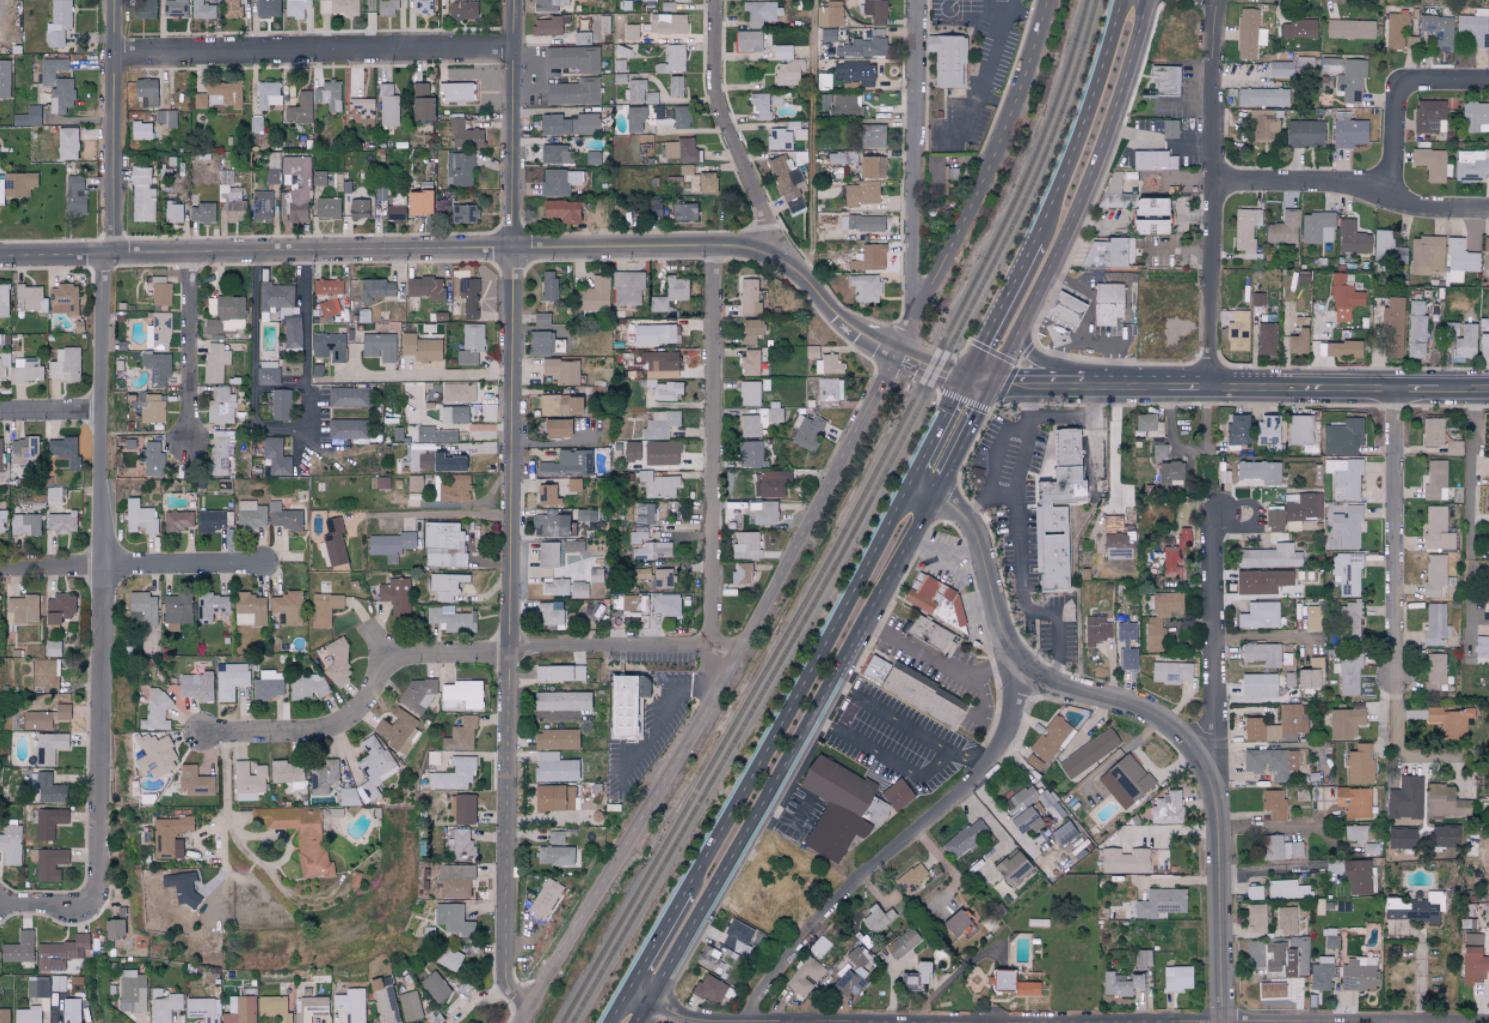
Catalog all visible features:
building: (682, 0)
building: (547, 5)
building: (423, 6)
road: (1011, 6)
building: (337, 7)
building: (386, 7)
building: (175, 8)
building: (231, 8)
building: (267, 8)
building: (295, 8)
building: (144, 9)
building: (462, 9)
road: (987, 9)
building: (202, 10)
building: (875, 11)
building: (758, 12)
building: (830, 14)
road: (987, 18)
building: (57, 22)
building: (667, 23)
building: (548, 25)
building: (1474, 27)
building: (1298, 28)
building: (1350, 29)
building: (1438, 30)
building: (1396, 31)
building: (630, 32)
building: (1249, 33)
building: (827, 34)
building: (582, 38)
building: (747, 41)
building: (863, 47)
building: (782, 52)
road: (316, 53)
building: (573, 58)
building: (672, 59)
building: (948, 59)
building: (1330, 64)
building: (1280, 69)
building: (787, 72)
building: (855, 72)
building: (4, 78)
building: (1165, 79)
building: (1351, 79)
building: (56, 84)
road: (1194, 84)
building: (675, 85)
road: (981, 87)
building: (634, 90)
building: (145, 91)
building: (455, 92)
building: (573, 92)
building: (267, 94)
building: (223, 95)
building: (327, 95)
building: (1262, 97)
building: (776, 99)
building: (199, 101)
building: (421, 102)
road: (997, 102)
building: (759, 105)
building: (846, 105)
building: (387, 106)
road: (1187, 106)
building: (300, 108)
building: (362, 110)
building: (658, 112)
building: (31, 116)
building: (1429, 116)
building: (165, 117)
building: (680, 117)
building: (1475, 117)
building: (634, 118)
road: (1082, 122)
road: (1398, 123)
building: (568, 124)
road: (516, 125)
building: (1263, 125)
road: (115, 126)
building: (1169, 128)
road: (728, 129)
building: (140, 130)
building: (1349, 133)
building: (1305, 134)
building: (464, 135)
building: (872, 135)
building: (779, 139)
road: (813, 139)
building: (67, 143)
road: (1160, 144)
building: (681, 150)
building: (554, 154)
building: (843, 157)
building: (592, 158)
building: (1153, 160)
building: (1430, 163)
road: (911, 164)
building: (1471, 165)
building: (871, 166)
building: (460, 169)
building: (685, 169)
building: (934, 170)
railway: (1026, 172)
railway: (1035, 174)
building: (951, 175)
building: (272, 177)
building: (318, 178)
building: (673, 180)
building: (558, 181)
building: (707, 182)
building: (16, 183)
building: (787, 185)
building: (296, 186)
road: (1352, 191)
building: (379, 192)
building: (861, 193)
road: (1215, 193)
building: (142, 194)
building: (74, 195)
building: (231, 195)
road: (1081, 197)
building: (261, 202)
building: (1148, 207)
building: (326, 208)
building: (358, 208)
building: (562, 210)
building: (684, 211)
building: (173, 212)
building: (394, 212)
building: (202, 213)
building: (463, 213)
building: (862, 223)
road: (1097, 224)
building: (1148, 226)
building: (1317, 227)
building: (1283, 228)
building: (1245, 232)
building: (1352, 238)
building: (1387, 248)
road: (648, 250)
road: (314, 251)
road: (1179, 251)
road: (56, 253)
building: (1105, 253)
building: (1426, 255)
building: (1487, 257)
building: (869, 258)
building: (1459, 260)
building: (548, 285)
building: (327, 286)
building: (424, 287)
building: (628, 287)
building: (375, 288)
building: (864, 288)
building: (159, 290)
building: (669, 293)
building: (594, 295)
building: (274, 296)
building: (749, 296)
building: (468, 297)
building: (29, 298)
building: (1343, 299)
building: (63, 300)
building: (3, 301)
building: (1107, 303)
building: (328, 307)
building: (1065, 308)
road: (999, 310)
building: (222, 312)
building: (541, 319)
road: (842, 327)
building: (1393, 327)
building: (291, 328)
building: (1416, 329)
road: (1087, 330)
building: (158, 331)
building: (750, 331)
building: (1238, 331)
building: (656, 334)
building: (1266, 339)
building: (1465, 341)
building: (1298, 342)
building: (470, 344)
building: (1484, 345)
building: (328, 346)
building: (379, 346)
building: (420, 347)
road: (189, 348)
building: (1339, 349)
building: (660, 360)
building: (214, 362)
building: (749, 362)
building: (65, 365)
building: (828, 365)
building: (156, 368)
building: (27, 370)
building: (316, 370)
building: (561, 371)
building: (267, 373)
road: (424, 373)
building: (2, 374)
road: (960, 377)
road: (1101, 386)
road: (957, 388)
building: (830, 389)
road: (1349, 389)
building: (665, 390)
building: (458, 392)
building: (749, 393)
building: (487, 394)
building: (349, 397)
building: (280, 404)
building: (560, 405)
building: (221, 406)
building: (150, 408)
road: (50, 410)
building: (453, 414)
building: (771, 415)
road: (1072, 416)
building: (659, 424)
building: (1149, 425)
road: (279, 426)
building: (749, 426)
road: (448, 427)
building: (348, 428)
building: (556, 428)
building: (1237, 429)
building: (1267, 430)
building: (1299, 430)
building: (807, 431)
road: (969, 432)
building: (1432, 432)
building: (436, 434)
building: (1342, 437)
road: (306, 440)
road: (931, 441)
road: (555, 444)
road: (1114, 446)
building: (1453, 447)
building: (23, 450)
building: (64, 451)
building: (220, 451)
building: (631, 451)
building: (1158, 451)
building: (660, 453)
building: (751, 454)
building: (0, 457)
building: (275, 457)
building: (152, 459)
building: (419, 460)
building: (446, 462)
building: (567, 464)
road: (995, 465)
road: (715, 470)
building: (1259, 471)
building: (1169, 472)
building: (1223, 477)
building: (1344, 478)
building: (1435, 479)
building: (383, 483)
building: (771, 484)
building: (573, 485)
building: (658, 485)
building: (451, 488)
building: (547, 494)
road: (1001, 495)
building: (1303, 506)
building: (1055, 510)
road: (1468, 512)
building: (645, 513)
building: (765, 513)
road: (429, 514)
building: (250, 515)
building: (584, 515)
building: (140, 517)
building: (283, 517)
building: (1273, 518)
building: (177, 520)
building: (210, 520)
building: (2, 521)
road: (806, 521)
building: (61, 522)
building: (25, 524)
building: (548, 525)
building: (1300, 525)
building: (1347, 526)
building: (1437, 529)
road: (1396, 531)
building: (1183, 537)
building: (1116, 539)
building: (335, 544)
building: (389, 545)
building: (443, 545)
building: (746, 545)
building: (573, 546)
building: (649, 547)
road: (1018, 547)
building: (548, 554)
road: (946, 556)
building: (1270, 557)
building: (1171, 561)
road: (103, 564)
road: (184, 570)
road: (52, 571)
building: (1346, 573)
building: (741, 574)
building: (595, 575)
building: (1434, 575)
building: (655, 577)
building: (1262, 581)
building: (445, 585)
building: (554, 587)
building: (578, 590)
building: (395, 595)
building: (932, 597)
building: (1487, 598)
building: (629, 604)
building: (665, 605)
building: (144, 606)
building: (211, 606)
road: (978, 606)
building: (288, 607)
building: (58, 608)
building: (22, 609)
building: (176, 609)
building: (250, 609)
building: (323, 609)
building: (550, 614)
building: (1259, 615)
building: (136, 617)
building: (1159, 617)
building: (1313, 618)
building: (451, 619)
building: (1349, 621)
building: (1434, 625)
building: (1096, 630)
building: (928, 633)
road: (508, 636)
road: (1265, 637)
building: (1126, 645)
building: (1482, 647)
building: (52, 648)
road: (451, 652)
building: (1261, 654)
building: (337, 661)
building: (1316, 664)
road: (941, 666)
building: (1170, 670)
road: (987, 671)
building: (1434, 672)
building: (559, 673)
building: (1348, 673)
building: (45, 674)
building: (1306, 678)
road: (1217, 679)
building: (230, 680)
railway: (758, 682)
railway: (766, 683)
building: (268, 685)
building: (1258, 685)
building: (195, 686)
building: (306, 686)
building: (913, 689)
road: (795, 691)
building: (417, 692)
building: (463, 693)
building: (561, 701)
building: (625, 704)
road: (1138, 708)
building: (156, 710)
road: (893, 716)
building: (45, 718)
road: (660, 718)
building: (1450, 722)
building: (1344, 723)
building: (1276, 725)
building: (397, 730)
building: (461, 736)
building: (1050, 738)
building: (555, 739)
road: (1395, 739)
building: (49, 747)
road: (792, 751)
building: (1088, 753)
building: (155, 755)
road: (885, 759)
road: (969, 759)
building: (1034, 762)
building: (1270, 762)
building: (1359, 764)
building: (374, 766)
road: (1145, 767)
building: (554, 768)
building: (286, 771)
building: (455, 774)
building: (323, 777)
building: (248, 781)
building: (1125, 781)
building: (194, 782)
building: (48, 788)
building: (897, 795)
building: (348, 796)
building: (554, 798)
building: (1020, 798)
road: (225, 802)
building: (1353, 802)
building: (1445, 802)
building: (1274, 805)
building: (835, 807)
building: (1167, 808)
building: (462, 809)
building: (875, 811)
building: (1024, 819)
building: (49, 822)
road: (1264, 828)
building: (1063, 833)
building: (1355, 833)
road: (1175, 834)
building: (169, 836)
building: (299, 836)
building: (1445, 836)
building: (555, 837)
building: (965, 837)
building: (461, 844)
building: (11, 845)
building: (1471, 845)
road: (930, 846)
road: (898, 847)
building: (1280, 849)
building: (554, 855)
road: (1485, 856)
building: (1124, 861)
building: (48, 863)
building: (1013, 868)
road: (1279, 870)
building: (1357, 876)
building: (911, 878)
building: (455, 880)
road: (953, 884)
building: (181, 887)
building: (1287, 889)
building: (1255, 892)
building: (544, 898)
road: (56, 899)
building: (1158, 903)
building: (1414, 908)
building: (1257, 917)
building: (453, 919)
building: (877, 919)
building: (1286, 920)
building: (955, 923)
building: (114, 927)
building: (737, 936)
building: (1472, 939)
building: (902, 943)
road: (653, 946)
building: (19, 950)
building: (60, 953)
building: (1275, 955)
building: (708, 956)
building: (447, 957)
building: (856, 957)
building: (1142, 958)
building: (1473, 965)
road: (1420, 969)
building: (1289, 971)
building: (1358, 973)
building: (1320, 974)
building: (805, 977)
building: (915, 977)
building: (1177, 978)
building: (1002, 980)
building: (1120, 983)
building: (848, 984)
building: (434, 986)
building: (37, 989)
building: (710, 989)
building: (1026, 989)
building: (131, 991)
building: (384, 1002)
building: (163, 1005)
building: (350, 1005)
building: (409, 1006)
building: (274, 1008)
building: (311, 1008)
road: (618, 1008)
building: (203, 1009)
building: (71, 1010)
building: (240, 1010)
building: (4, 1015)
building: (28, 1015)
road: (796, 1022)
road: (805, 1022)

